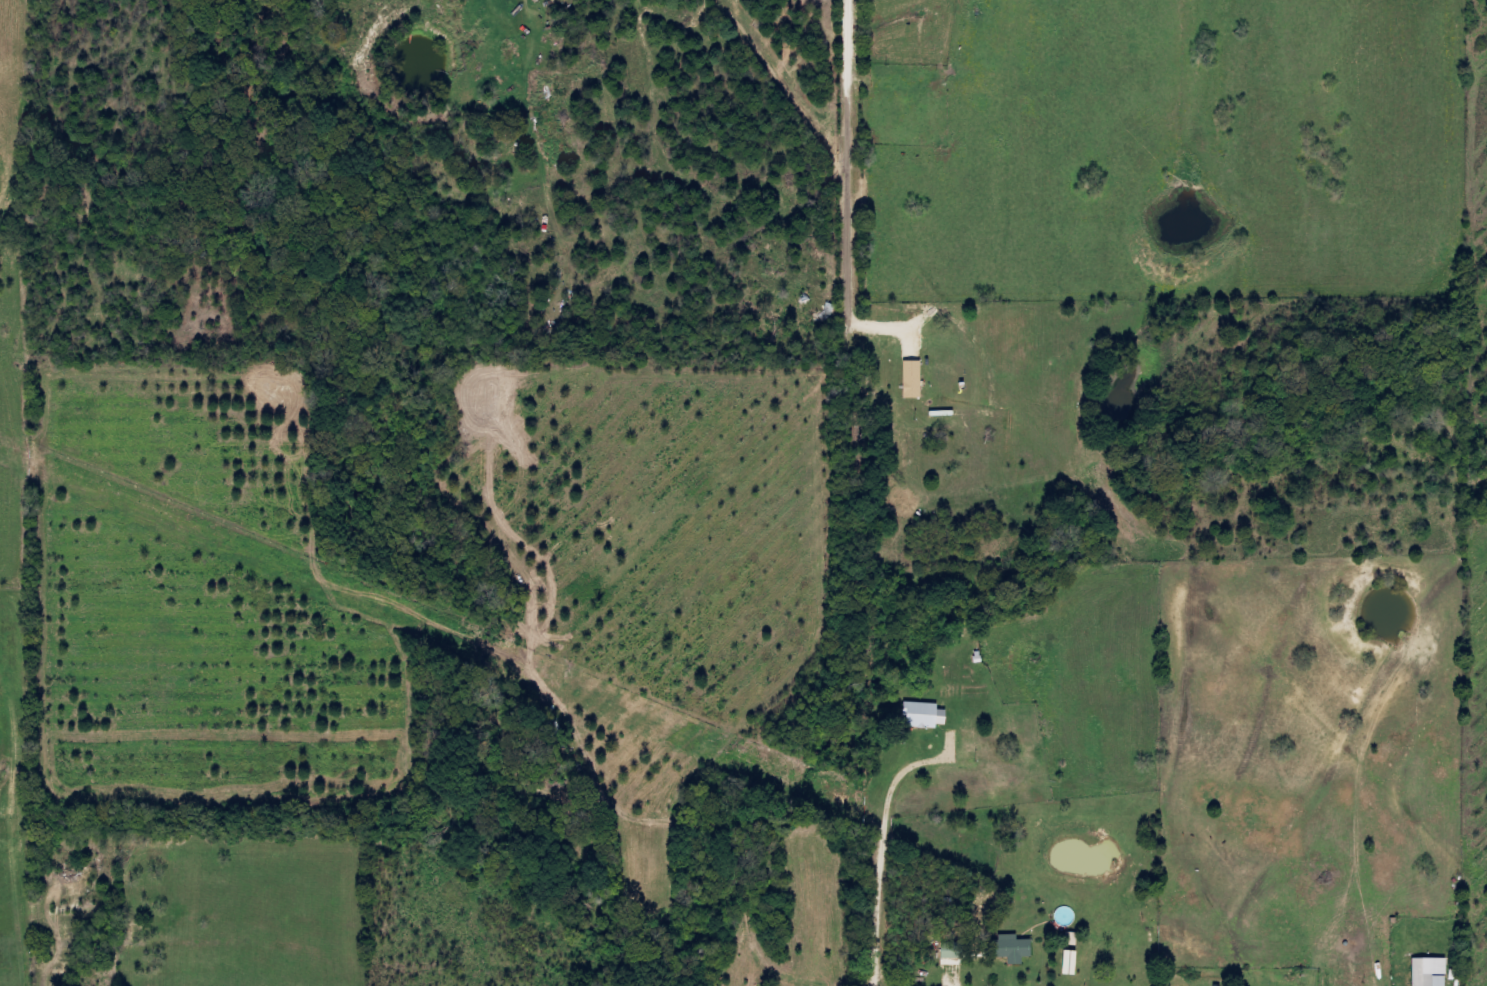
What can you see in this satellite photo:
building: (918, 381)
road: (839, 465)
building: (931, 717)
building: (1019, 950)
building: (959, 952)
building: (1429, 972)

